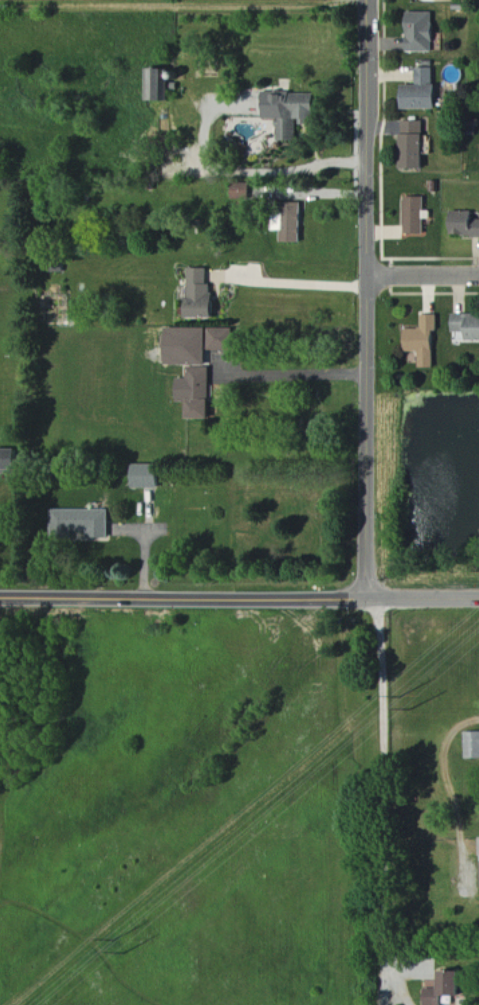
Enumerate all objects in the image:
building: (424, 33)
building: (162, 87)
building: (425, 93)
building: (294, 114)
building: (416, 147)
road: (235, 167)
building: (244, 192)
building: (417, 218)
building: (295, 225)
building: (465, 226)
road: (424, 278)
road: (289, 285)
building: (196, 292)
road: (367, 299)
building: (468, 326)
building: (425, 341)
building: (199, 345)
road: (289, 373)
building: (199, 392)
building: (11, 461)
building: (150, 477)
building: (83, 524)
road: (239, 598)
power tower: (402, 698)
power tower: (411, 710)
building: (473, 746)
road: (384, 777)
power tower: (116, 941)
power tower: (127, 953)
road: (383, 980)
road: (399, 980)
building: (446, 988)

